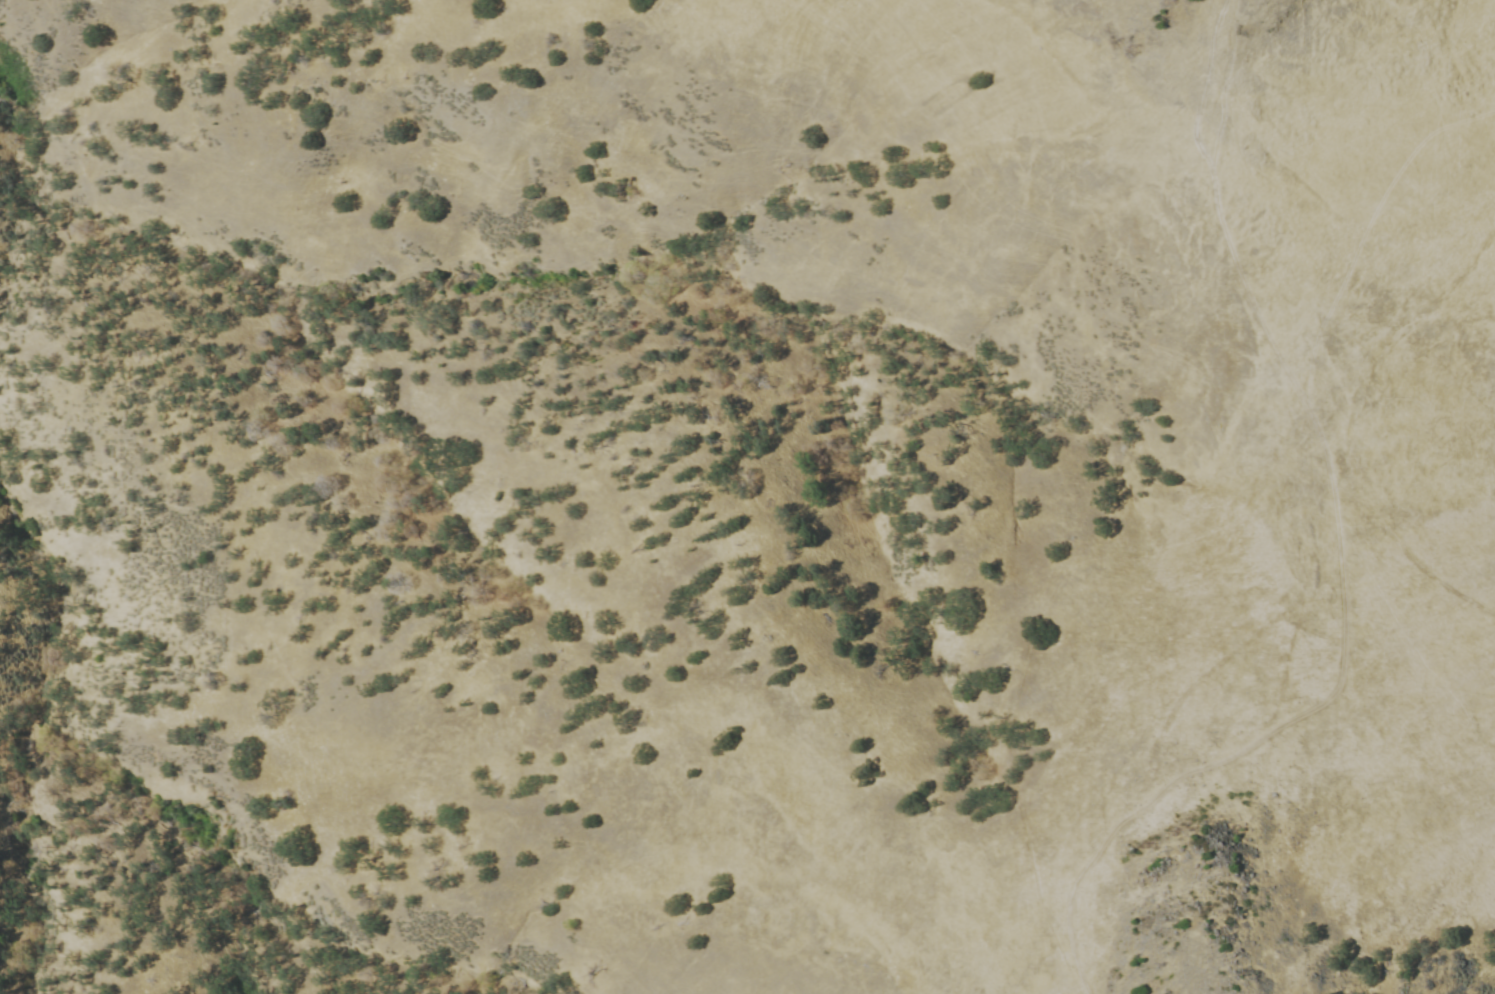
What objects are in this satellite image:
road: (1211, 166)
road: (1305, 711)

